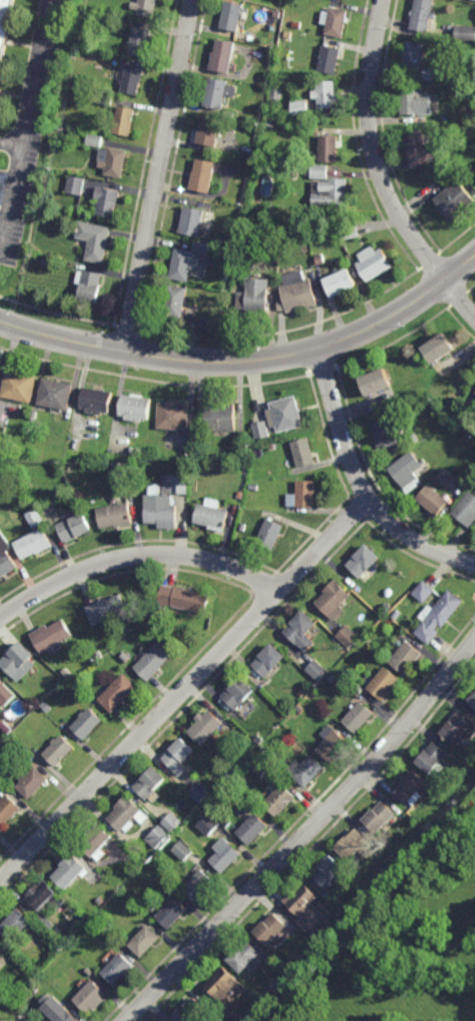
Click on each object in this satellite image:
building: (474, 0)
building: (146, 8)
building: (423, 15)
building: (233, 16)
building: (336, 22)
building: (5, 26)
building: (465, 33)
building: (141, 42)
building: (225, 55)
building: (415, 55)
building: (331, 60)
building: (133, 81)
building: (217, 93)
building: (327, 95)
building: (415, 102)
building: (299, 109)
building: (125, 122)
road: (26, 123)
building: (211, 131)
parking lot: (28, 132)
road: (12, 136)
building: (95, 140)
building: (329, 148)
building: (419, 149)
building: (114, 162)
road: (379, 170)
building: (320, 172)
road: (160, 176)
building: (205, 176)
building: (76, 185)
building: (334, 193)
building: (456, 200)
building: (110, 202)
building: (197, 223)
building: (96, 241)
road: (0, 246)
building: (375, 264)
building: (184, 265)
building: (343, 283)
building: (90, 287)
building: (299, 293)
building: (258, 296)
building: (177, 301)
building: (441, 349)
road: (248, 361)
building: (378, 384)
building: (20, 387)
building: (57, 393)
building: (414, 400)
building: (97, 401)
building: (135, 408)
building: (286, 414)
building: (35, 415)
building: (174, 416)
building: (222, 418)
building: (262, 430)
building: (386, 433)
building: (3, 434)
building: (413, 438)
building: (242, 444)
building: (74, 445)
building: (272, 446)
building: (304, 453)
building: (121, 469)
building: (407, 472)
building: (447, 478)
road: (361, 485)
building: (255, 487)
building: (304, 495)
building: (241, 496)
building: (432, 499)
building: (166, 502)
building: (466, 510)
building: (116, 516)
building: (212, 516)
building: (36, 517)
building: (76, 526)
building: (244, 527)
building: (271, 534)
building: (34, 543)
road: (135, 555)
building: (6, 558)
building: (363, 561)
building: (423, 592)
building: (183, 600)
building: (334, 600)
building: (108, 610)
building: (396, 615)
building: (437, 617)
building: (303, 632)
building: (53, 636)
building: (348, 637)
building: (367, 641)
building: (405, 658)
building: (126, 659)
building: (152, 661)
building: (270, 661)
building: (19, 662)
building: (318, 671)
building: (67, 674)
building: (332, 679)
building: (62, 681)
building: (2, 684)
building: (383, 684)
building: (358, 689)
building: (30, 691)
road: (184, 691)
building: (302, 693)
building: (119, 694)
building: (238, 696)
building: (472, 701)
building: (0, 702)
building: (46, 706)
building: (300, 710)
building: (359, 717)
building: (88, 724)
building: (9, 726)
building: (207, 726)
building: (457, 729)
building: (259, 737)
building: (332, 741)
building: (58, 749)
building: (262, 749)
building: (179, 755)
building: (432, 761)
building: (262, 765)
building: (306, 769)
building: (32, 780)
building: (152, 782)
building: (410, 787)
building: (200, 791)
building: (278, 796)
building: (192, 807)
building: (7, 809)
building: (128, 813)
building: (382, 816)
building: (172, 821)
building: (207, 821)
building: (253, 827)
building: (431, 827)
road: (306, 835)
building: (158, 836)
building: (97, 841)
building: (355, 843)
building: (183, 850)
building: (225, 854)
building: (409, 854)
building: (70, 870)
building: (330, 871)
building: (198, 884)
building: (45, 895)
building: (100, 900)
building: (361, 901)
building: (153, 907)
building: (308, 911)
building: (172, 912)
building: (16, 922)
building: (344, 922)
building: (48, 923)
building: (271, 928)
building: (112, 940)
building: (145, 940)
building: (325, 943)
building: (2, 947)
building: (316, 950)
building: (244, 955)
building: (118, 968)
building: (89, 971)
building: (43, 986)
building: (278, 986)
building: (226, 989)
building: (91, 996)
building: (57, 1009)
building: (190, 1011)

